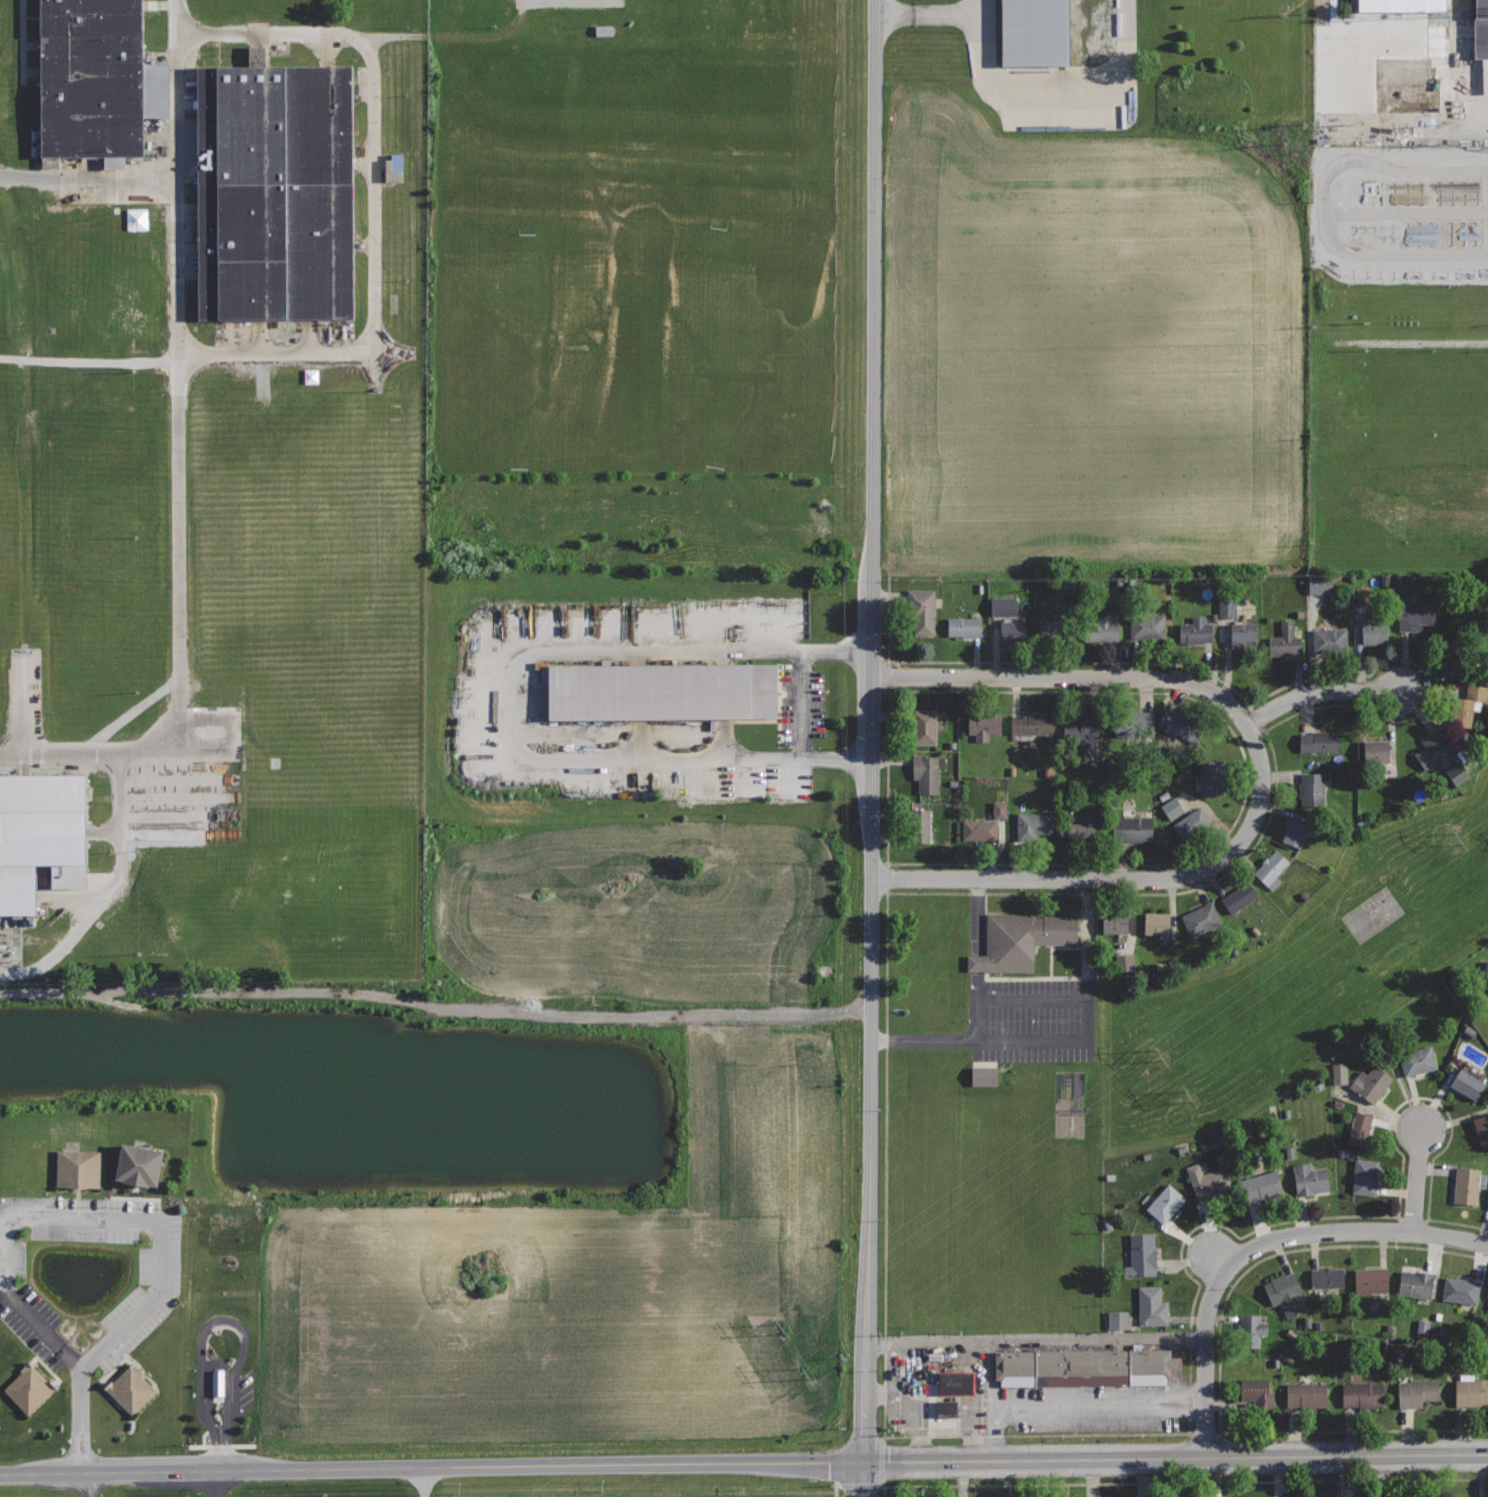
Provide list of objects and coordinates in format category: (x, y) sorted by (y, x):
park: (738, 1)
parking lot: (573, 4)
road: (929, 15)
building: (1482, 26)
building: (1034, 30)
road: (449, 35)
parking lot: (1042, 57)
building: (88, 80)
parking lot: (1398, 83)
road: (1420, 84)
road: (1054, 99)
park: (490, 107)
park: (749, 114)
building: (1011, 119)
park: (580, 122)
building: (391, 168)
park: (490, 168)
road: (88, 180)
road: (1323, 186)
building: (270, 190)
road: (376, 202)
parking lot: (1400, 215)
park: (650, 238)
road: (1388, 254)
park: (746, 328)
park: (545, 331)
road: (875, 338)
road: (1407, 343)
road: (89, 355)
road: (179, 376)
building: (1318, 584)
building: (1225, 607)
building: (922, 610)
building: (1414, 616)
building: (1054, 625)
building: (1147, 625)
building: (964, 626)
building: (1102, 629)
building: (1013, 631)
building: (1197, 631)
building: (1373, 631)
building: (1244, 633)
building: (1330, 639)
building: (1286, 640)
building: (1454, 656)
road: (1099, 677)
building: (662, 691)
road: (1322, 691)
parking lot: (647, 701)
road: (510, 704)
building: (1467, 704)
road: (799, 705)
road: (483, 714)
building: (1133, 723)
building: (983, 724)
building: (1032, 724)
building: (1181, 725)
building: (925, 726)
building: (1081, 729)
building: (1319, 740)
building: (1377, 750)
building: (1431, 751)
road: (90, 754)
building: (927, 772)
building: (1453, 772)
building: (1213, 775)
road: (777, 779)
road: (703, 780)
road: (743, 780)
building: (1313, 788)
road: (623, 791)
road: (754, 800)
building: (1170, 808)
building: (1191, 823)
building: (919, 825)
building: (1033, 825)
building: (1084, 826)
building: (1132, 828)
building: (979, 830)
building: (1295, 832)
building: (39, 835)
power tower: (1458, 837)
road: (1207, 851)
building: (1271, 868)
road: (1094, 879)
road: (110, 892)
building: (1240, 896)
park: (1415, 907)
park: (1373, 913)
road: (977, 916)
parking lot: (976, 919)
building: (1201, 919)
building: (1115, 922)
building: (1158, 923)
building: (1019, 940)
road: (977, 985)
building: (1487, 998)
road: (435, 1006)
road: (886, 1018)
parking lot: (1018, 1022)
road: (1074, 1041)
power tower: (1158, 1055)
building: (1418, 1060)
road: (870, 1070)
building: (1337, 1073)
building: (980, 1076)
building: (1372, 1083)
building: (1467, 1083)
power tower: (1187, 1096)
building: (1360, 1128)
building: (1481, 1128)
building: (140, 1166)
building: (79, 1170)
building: (1366, 1176)
building: (1310, 1178)
road: (1418, 1181)
building: (1209, 1184)
building: (1262, 1185)
building: (1467, 1185)
building: (1166, 1202)
building: (1487, 1206)
road: (89, 1221)
road: (1258, 1246)
building: (1142, 1256)
building: (1328, 1277)
building: (1372, 1280)
building: (1417, 1282)
parking lot: (85, 1284)
building: (1461, 1290)
building: (1286, 1292)
building: (1487, 1300)
building: (1152, 1306)
road: (224, 1319)
building: (1115, 1320)
power tower: (785, 1326)
building: (1251, 1329)
road: (1220, 1356)
power tower: (813, 1365)
building: (1082, 1366)
parking lot: (221, 1379)
building: (219, 1381)
building: (956, 1382)
building: (133, 1390)
building: (30, 1391)
building: (1417, 1392)
building: (1471, 1392)
building: (1257, 1394)
building: (1307, 1394)
building: (1363, 1394)
building: (944, 1406)
road: (82, 1421)
road: (1176, 1458)
road: (432, 1469)
road: (864, 1480)
road: (1180, 1482)
road: (424, 1483)
road: (215, 1484)
road: (92, 1485)
road: (835, 1489)
parking lot: (214, 1490)
parking lot: (88, 1493)

